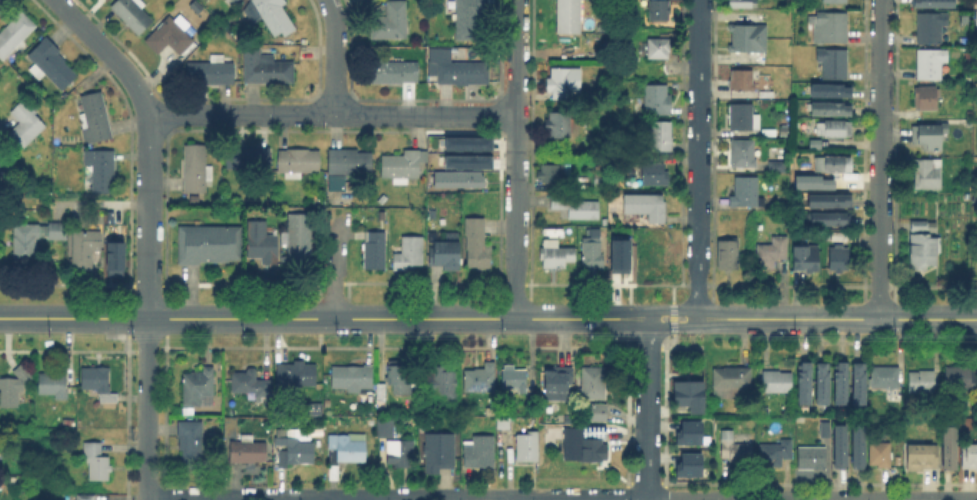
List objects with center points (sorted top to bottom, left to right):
building: (103, 0)
building: (235, 1)
building: (739, 2)
building: (835, 2)
building: (933, 3)
building: (658, 9)
building: (135, 13)
building: (567, 15)
building: (269, 16)
building: (470, 17)
building: (976, 19)
building: (393, 20)
building: (829, 28)
building: (931, 28)
building: (16, 33)
building: (173, 33)
building: (747, 35)
building: (659, 48)
road: (335, 57)
building: (53, 62)
building: (834, 64)
building: (930, 65)
building: (264, 68)
building: (465, 69)
building: (395, 70)
building: (209, 71)
building: (743, 78)
building: (563, 80)
building: (831, 89)
building: (927, 96)
building: (655, 98)
building: (830, 106)
building: (741, 114)
building: (96, 115)
road: (287, 115)
road: (470, 116)
building: (28, 122)
building: (558, 122)
building: (831, 127)
building: (767, 130)
building: (659, 134)
building: (929, 137)
building: (465, 142)
building: (813, 142)
building: (976, 142)
building: (742, 151)
building: (249, 156)
road: (515, 159)
road: (698, 159)
road: (881, 159)
building: (300, 160)
building: (466, 160)
building: (830, 162)
building: (349, 165)
building: (403, 165)
building: (775, 165)
building: (198, 166)
building: (600, 167)
building: (101, 169)
building: (552, 170)
building: (653, 172)
building: (928, 175)
building: (460, 177)
building: (598, 180)
building: (810, 181)
building: (744, 190)
building: (829, 199)
building: (574, 204)
building: (644, 204)
building: (830, 217)
building: (58, 230)
road: (148, 232)
building: (302, 238)
building: (656, 239)
building: (26, 241)
building: (263, 241)
building: (209, 242)
building: (477, 245)
building: (92, 246)
building: (923, 247)
building: (447, 248)
building: (377, 249)
building: (411, 253)
building: (590, 253)
building: (726, 253)
building: (772, 253)
building: (806, 254)
building: (839, 254)
building: (113, 255)
building: (555, 255)
building: (618, 255)
road: (334, 265)
building: (656, 266)
road: (671, 310)
road: (250, 318)
road: (674, 318)
road: (747, 318)
road: (515, 319)
road: (589, 319)
road: (839, 319)
road: (928, 319)
road: (672, 327)
building: (885, 376)
building: (295, 377)
building: (514, 378)
building: (960, 378)
building: (352, 379)
building: (481, 379)
building: (730, 380)
building: (776, 380)
building: (101, 381)
building: (398, 381)
building: (556, 381)
building: (59, 382)
building: (593, 382)
building: (805, 382)
building: (841, 382)
building: (859, 382)
building: (922, 382)
building: (249, 383)
building: (443, 383)
building: (823, 383)
building: (14, 386)
building: (200, 386)
building: (687, 393)
building: (381, 397)
road: (647, 409)
building: (594, 411)
building: (568, 418)
building: (502, 421)
building: (385, 425)
building: (825, 427)
building: (229, 428)
road: (73, 432)
building: (685, 432)
building: (193, 442)
building: (840, 443)
building: (858, 443)
building: (582, 445)
building: (950, 446)
building: (439, 448)
building: (527, 449)
building: (400, 450)
building: (248, 451)
building: (292, 451)
building: (736, 451)
building: (775, 451)
building: (345, 452)
building: (480, 452)
building: (921, 454)
building: (881, 455)
building: (969, 455)
building: (812, 458)
building: (97, 460)
building: (687, 464)
road: (36, 466)
building: (88, 496)
road: (812, 498)
road: (397, 499)

